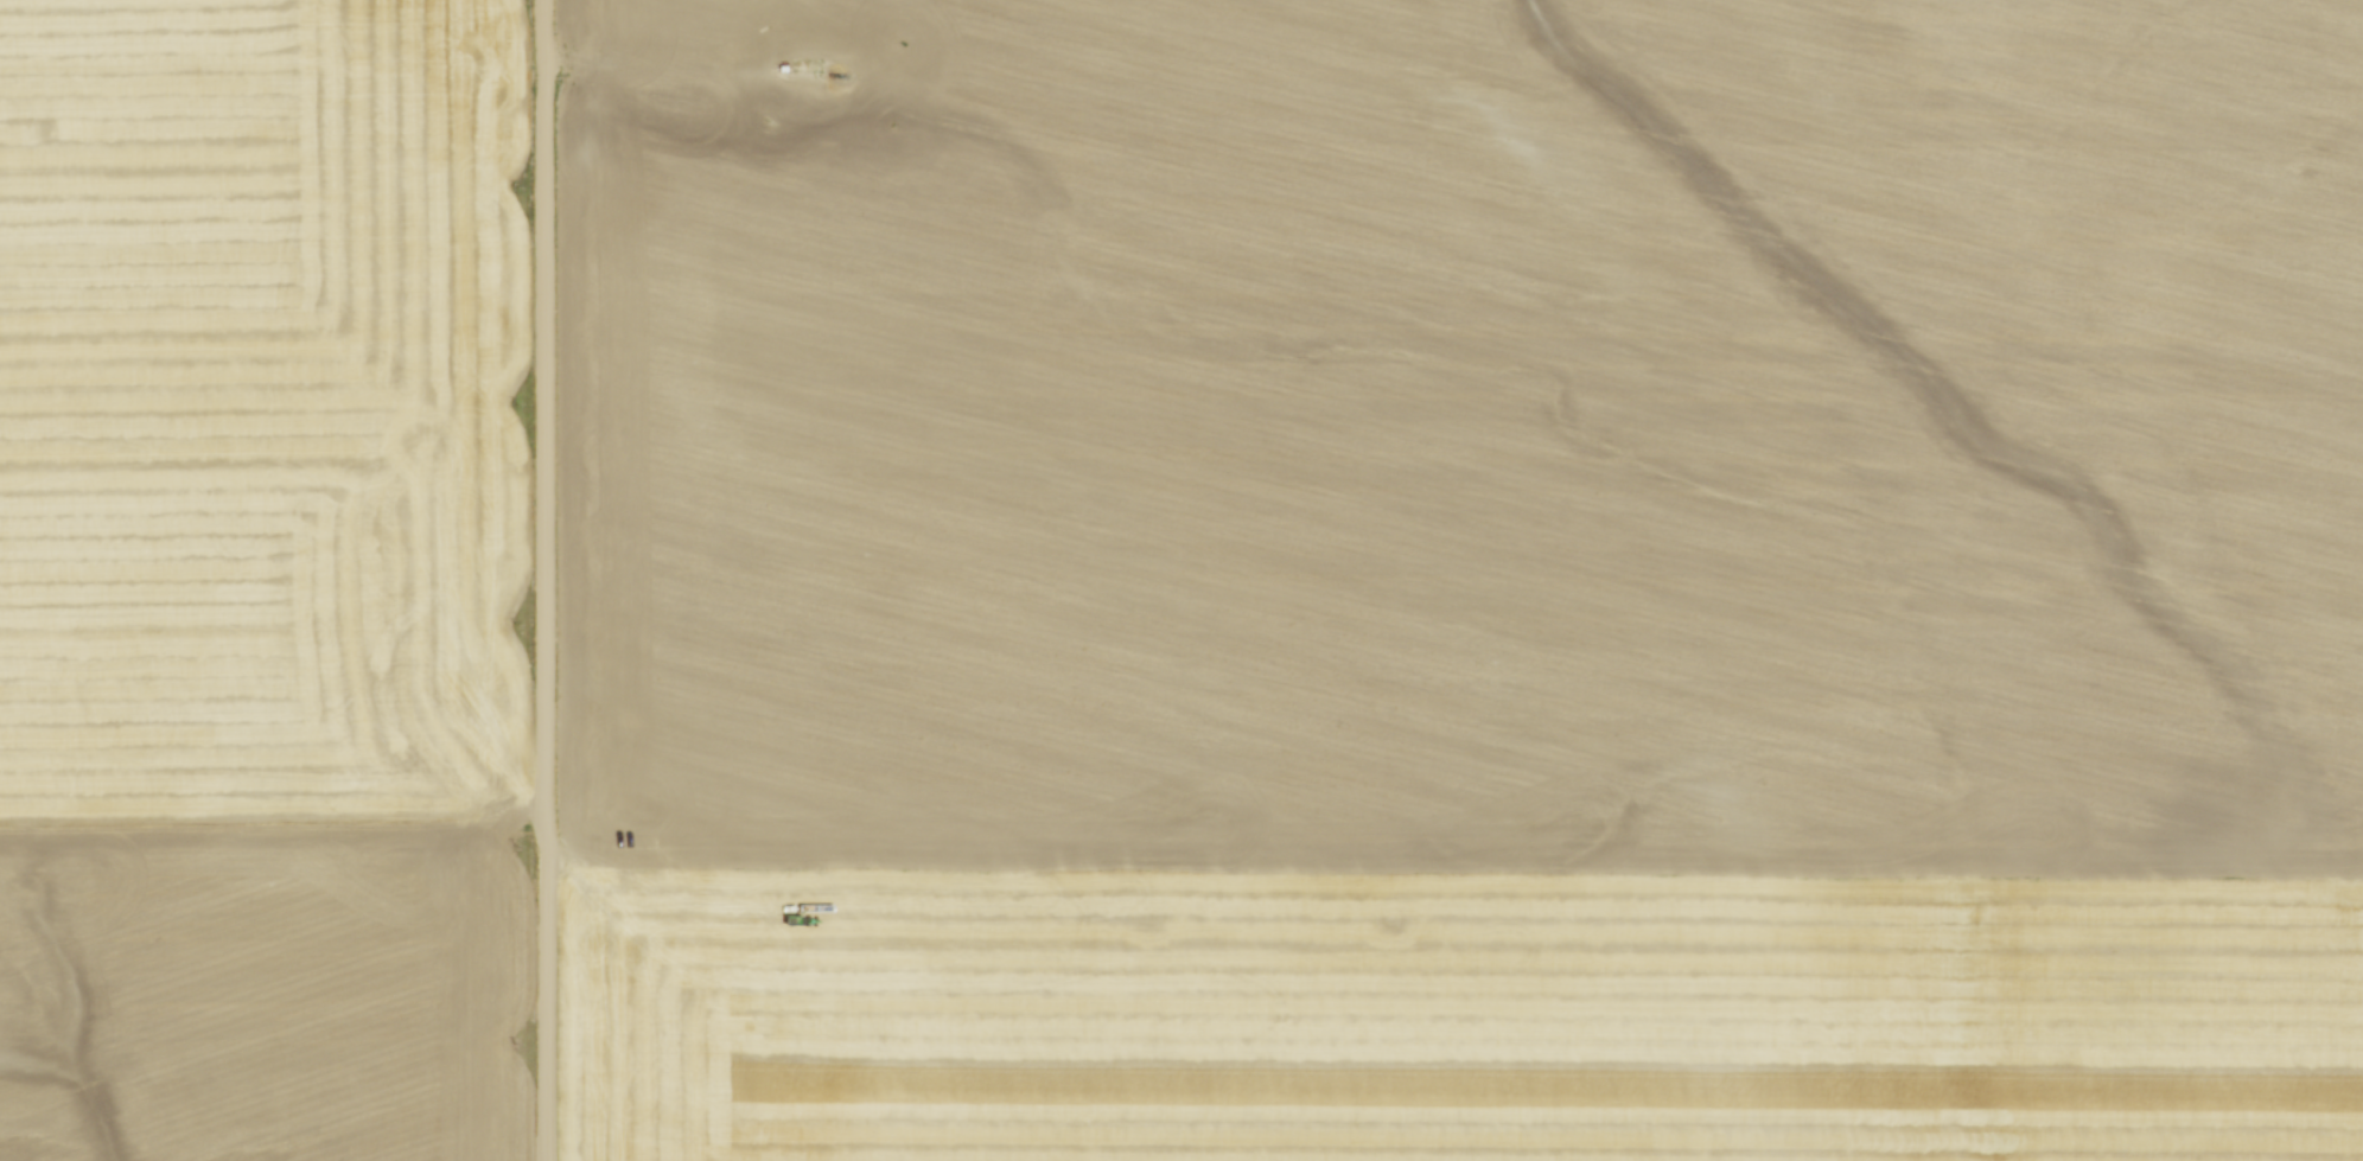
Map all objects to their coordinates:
crop: (262, 580)
road: (547, 580)
crop: (1465, 580)

